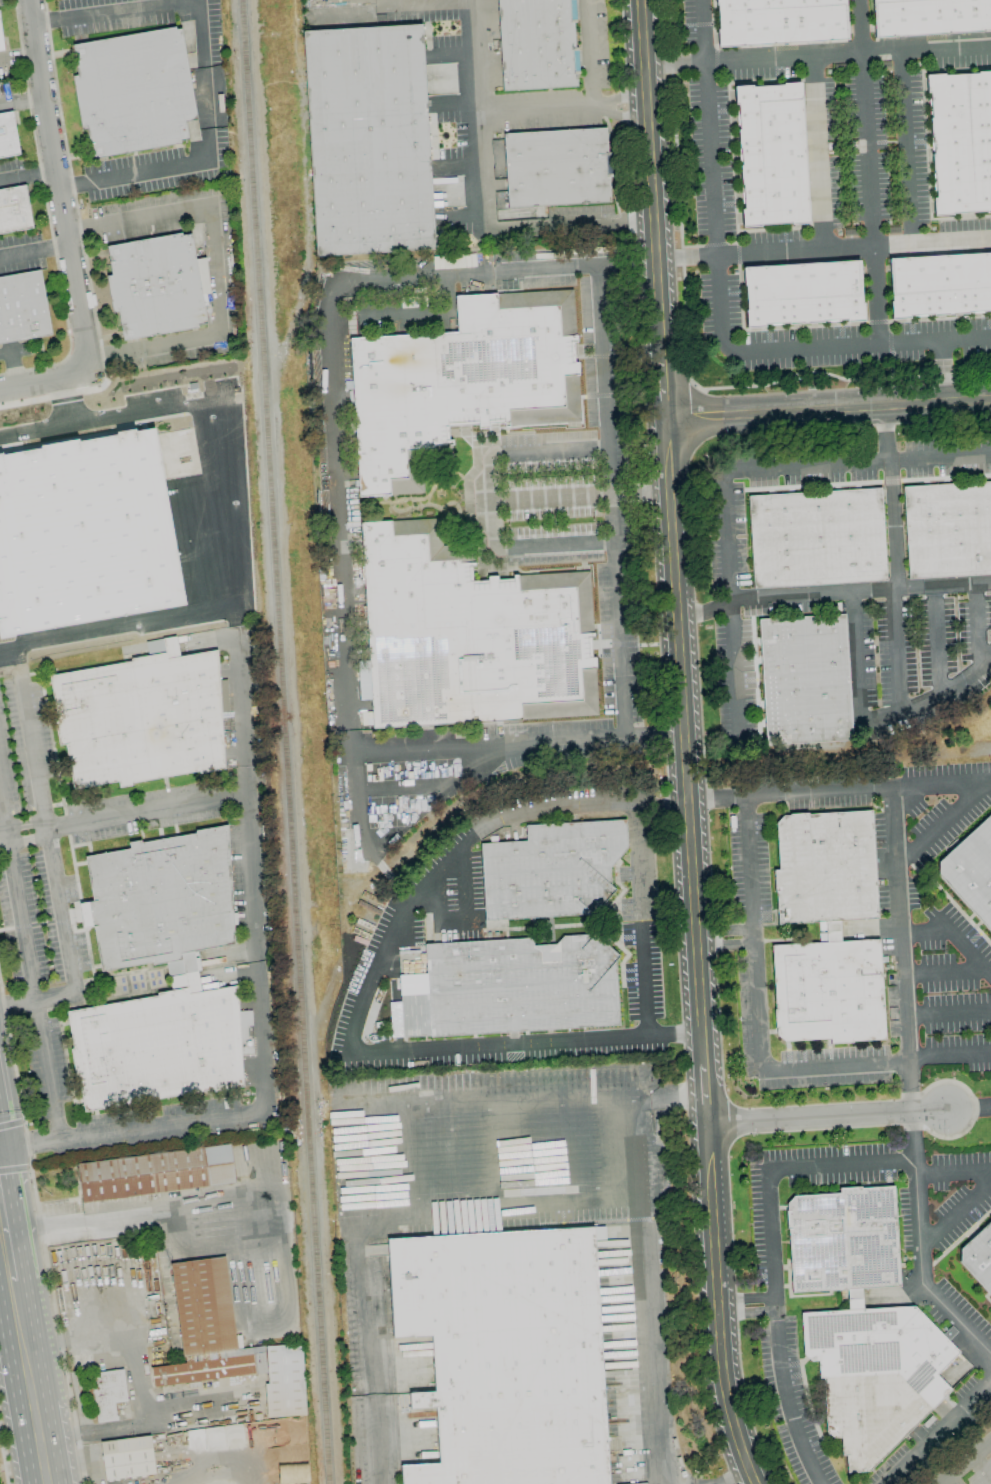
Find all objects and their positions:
road: (391, 6)
road: (144, 8)
building: (929, 17)
building: (779, 21)
building: (1, 41)
building: (537, 44)
road: (589, 54)
road: (817, 54)
building: (133, 92)
road: (203, 95)
road: (618, 98)
road: (22, 100)
road: (533, 110)
road: (619, 115)
road: (281, 129)
building: (8, 136)
building: (368, 140)
building: (961, 142)
road: (905, 147)
road: (816, 153)
building: (771, 155)
road: (649, 166)
building: (557, 167)
road: (147, 171)
road: (866, 172)
road: (59, 186)
road: (480, 200)
building: (14, 210)
road: (288, 220)
road: (307, 236)
road: (83, 244)
road: (34, 249)
road: (823, 251)
road: (216, 268)
building: (157, 285)
building: (940, 285)
building: (803, 293)
building: (22, 307)
road: (717, 308)
road: (409, 315)
road: (329, 370)
road: (662, 375)
building: (463, 378)
road: (44, 380)
road: (66, 401)
road: (827, 408)
road: (939, 457)
road: (483, 483)
road: (725, 489)
road: (228, 504)
building: (948, 529)
building: (84, 533)
building: (817, 538)
road: (530, 545)
road: (895, 584)
road: (921, 588)
road: (703, 611)
building: (469, 634)
road: (732, 659)
building: (805, 679)
road: (239, 706)
building: (141, 717)
road: (874, 720)
road: (29, 738)
railway: (283, 741)
road: (683, 743)
road: (416, 746)
railway: (982, 754)
road: (942, 784)
road: (22, 823)
road: (943, 823)
road: (24, 839)
building: (825, 867)
building: (551, 870)
building: (971, 871)
building: (161, 901)
road: (640, 919)
road: (62, 927)
road: (725, 931)
building: (832, 931)
road: (953, 935)
road: (726, 946)
road: (254, 953)
road: (942, 974)
road: (904, 984)
building: (512, 987)
building: (828, 991)
road: (34, 992)
road: (363, 996)
road: (17, 1003)
road: (949, 1016)
building: (157, 1045)
road: (762, 1048)
road: (703, 1095)
road: (668, 1098)
road: (488, 1105)
road: (970, 1108)
road: (827, 1116)
road: (12, 1124)
road: (2, 1132)
road: (2, 1149)
traffic signals: (4, 1149)
road: (14, 1168)
building: (155, 1173)
road: (953, 1173)
road: (10, 1186)
road: (498, 1214)
road: (955, 1217)
road: (124, 1218)
road: (1, 1221)
road: (44, 1228)
road: (40, 1234)
building: (843, 1240)
road: (772, 1254)
building: (978, 1257)
road: (9, 1261)
road: (647, 1292)
road: (746, 1299)
building: (854, 1299)
building: (203, 1306)
road: (717, 1306)
road: (747, 1314)
road: (20, 1324)
building: (506, 1354)
road: (372, 1356)
building: (211, 1367)
building: (875, 1375)
road: (131, 1377)
building: (285, 1381)
building: (108, 1396)
road: (35, 1415)
road: (938, 1433)
building: (127, 1457)
road: (4, 1459)
road: (964, 1461)
road: (212, 1462)
road: (981, 1467)
road: (734, 1478)

